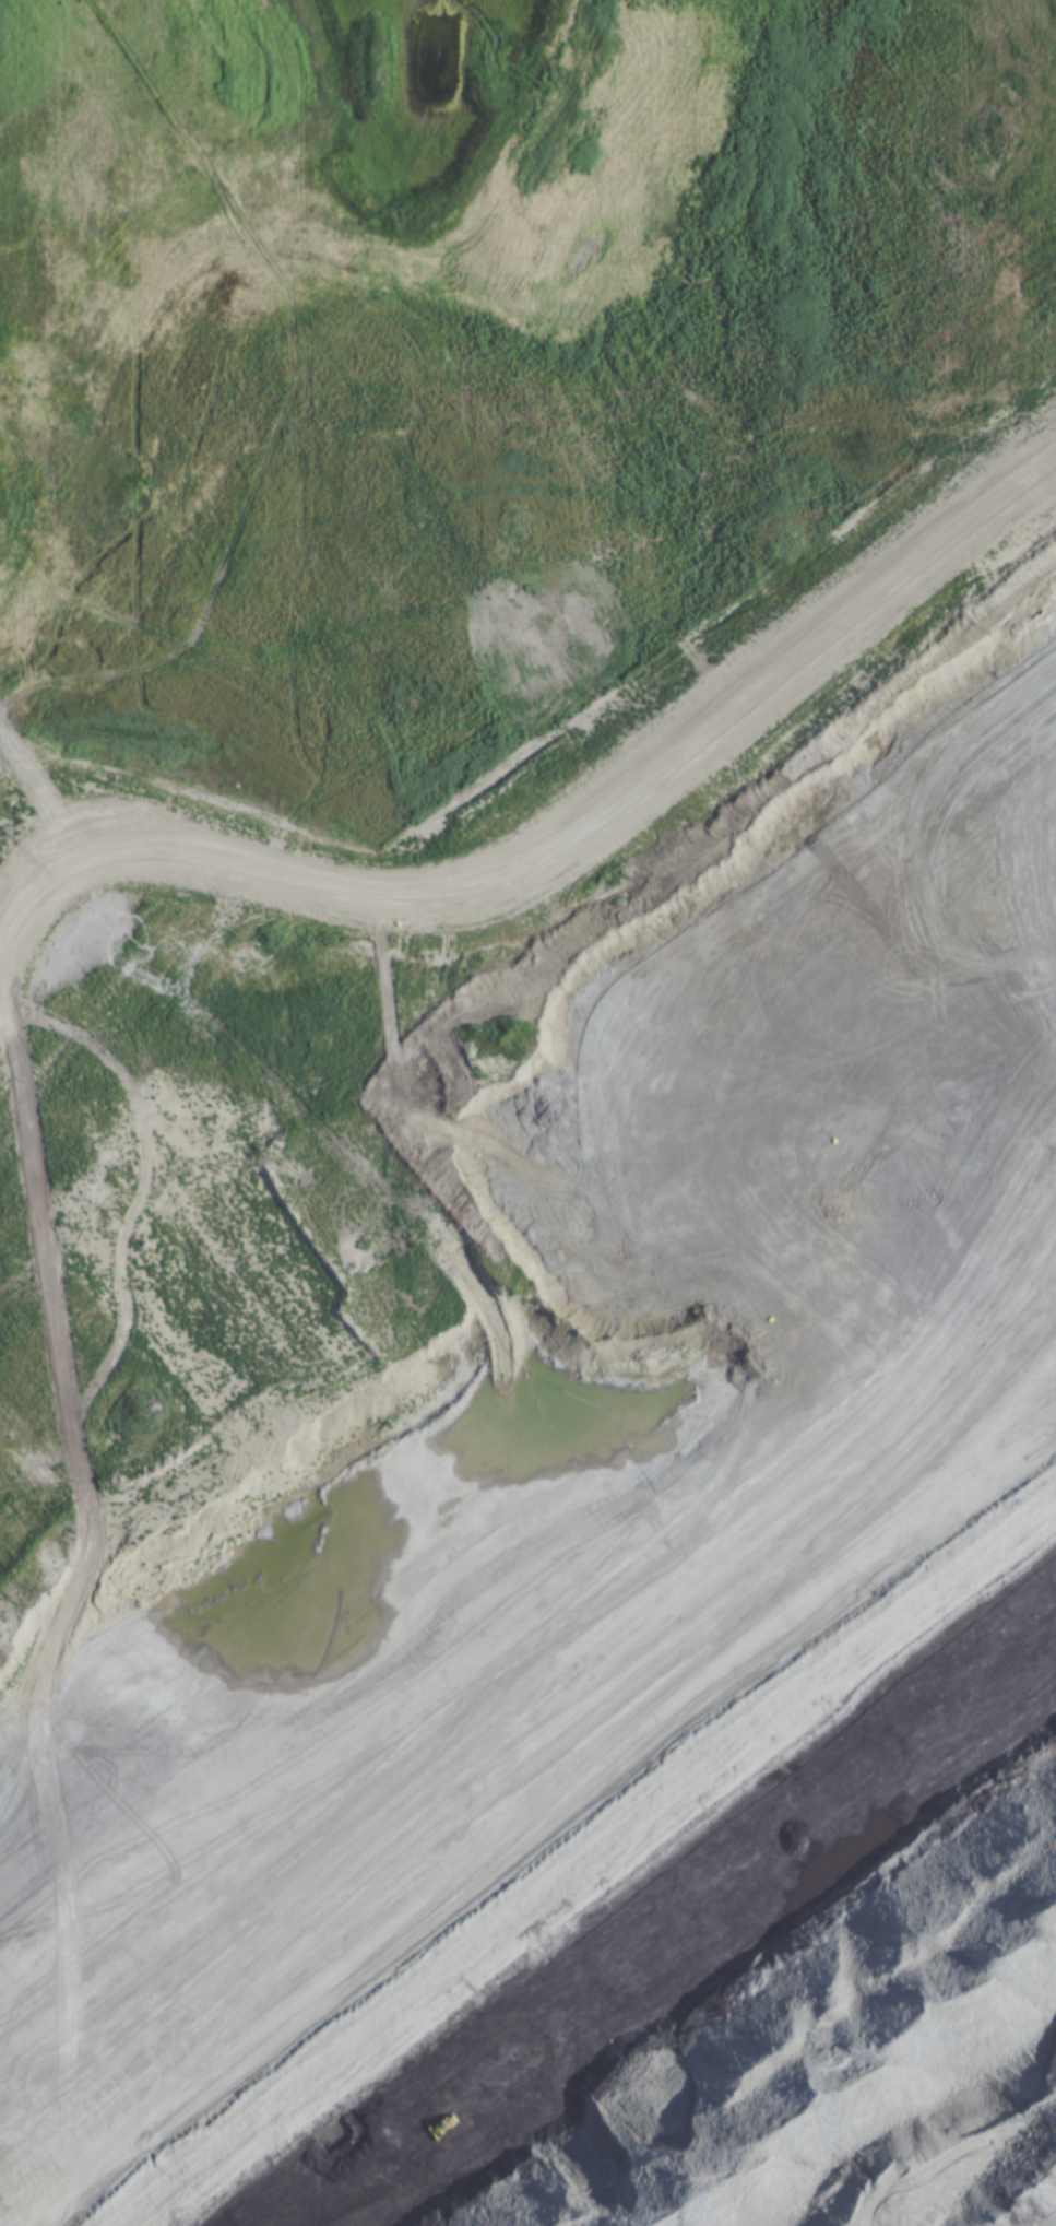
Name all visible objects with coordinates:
road: (527, 2144)

